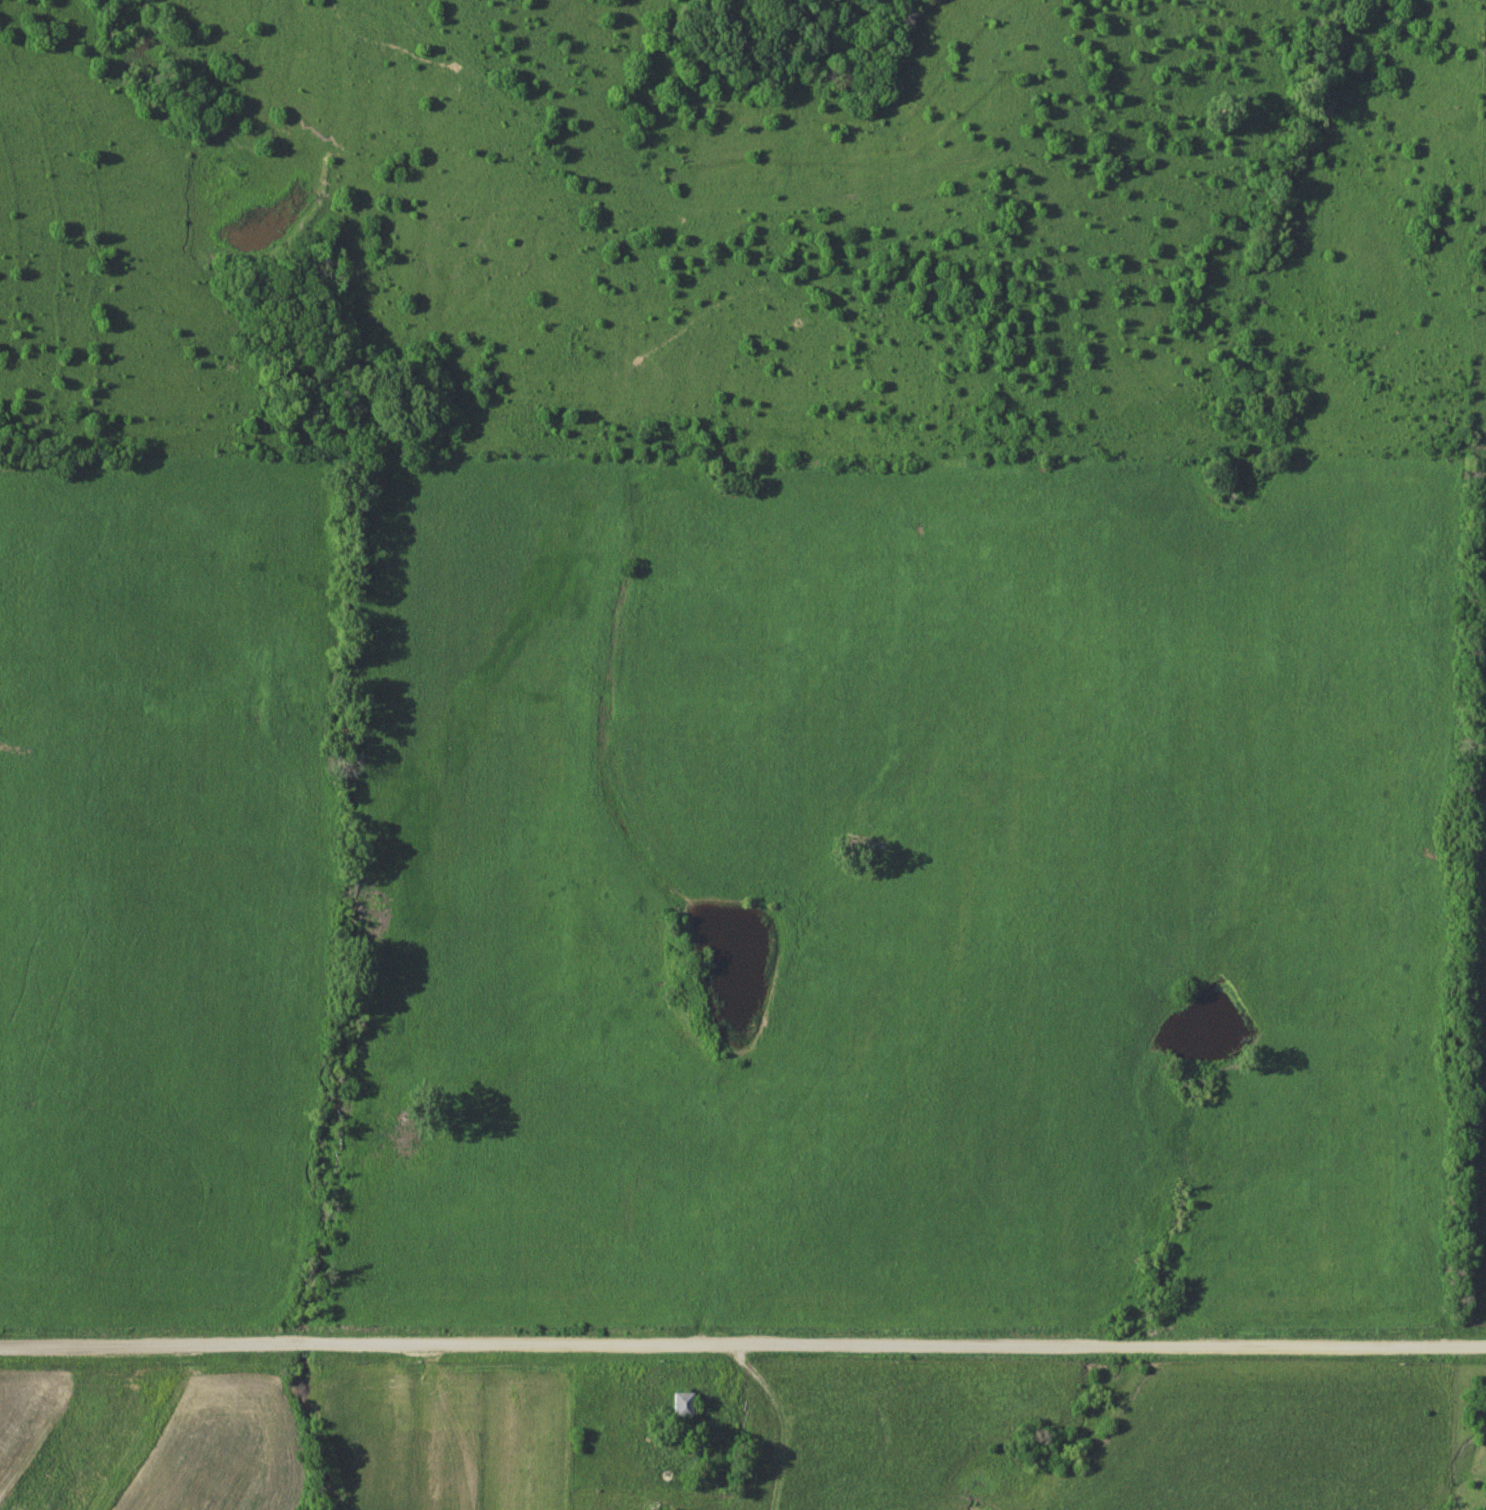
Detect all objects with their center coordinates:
road: (742, 1342)
building: (683, 1405)

